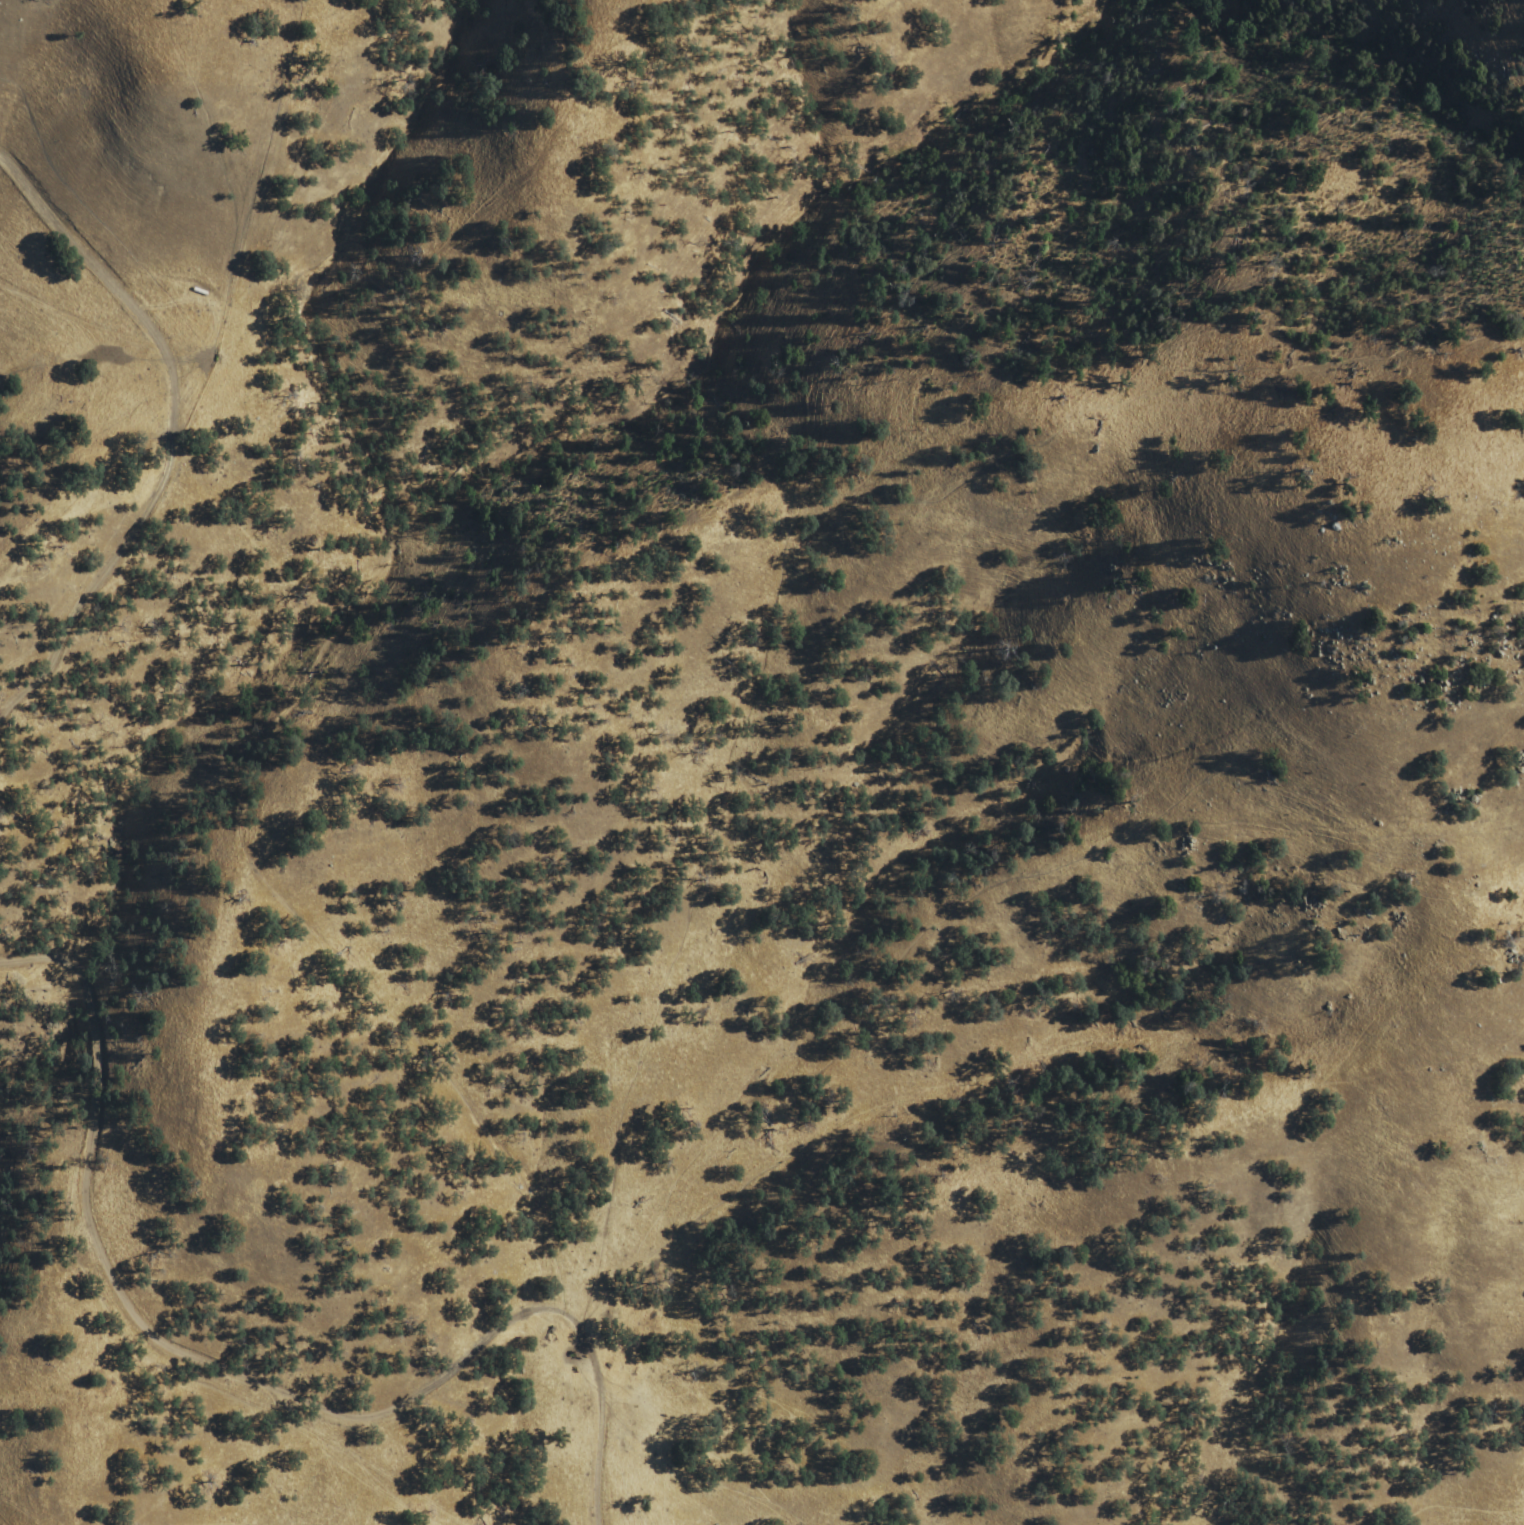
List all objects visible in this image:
road: (220, 447)
road: (90, 1229)

